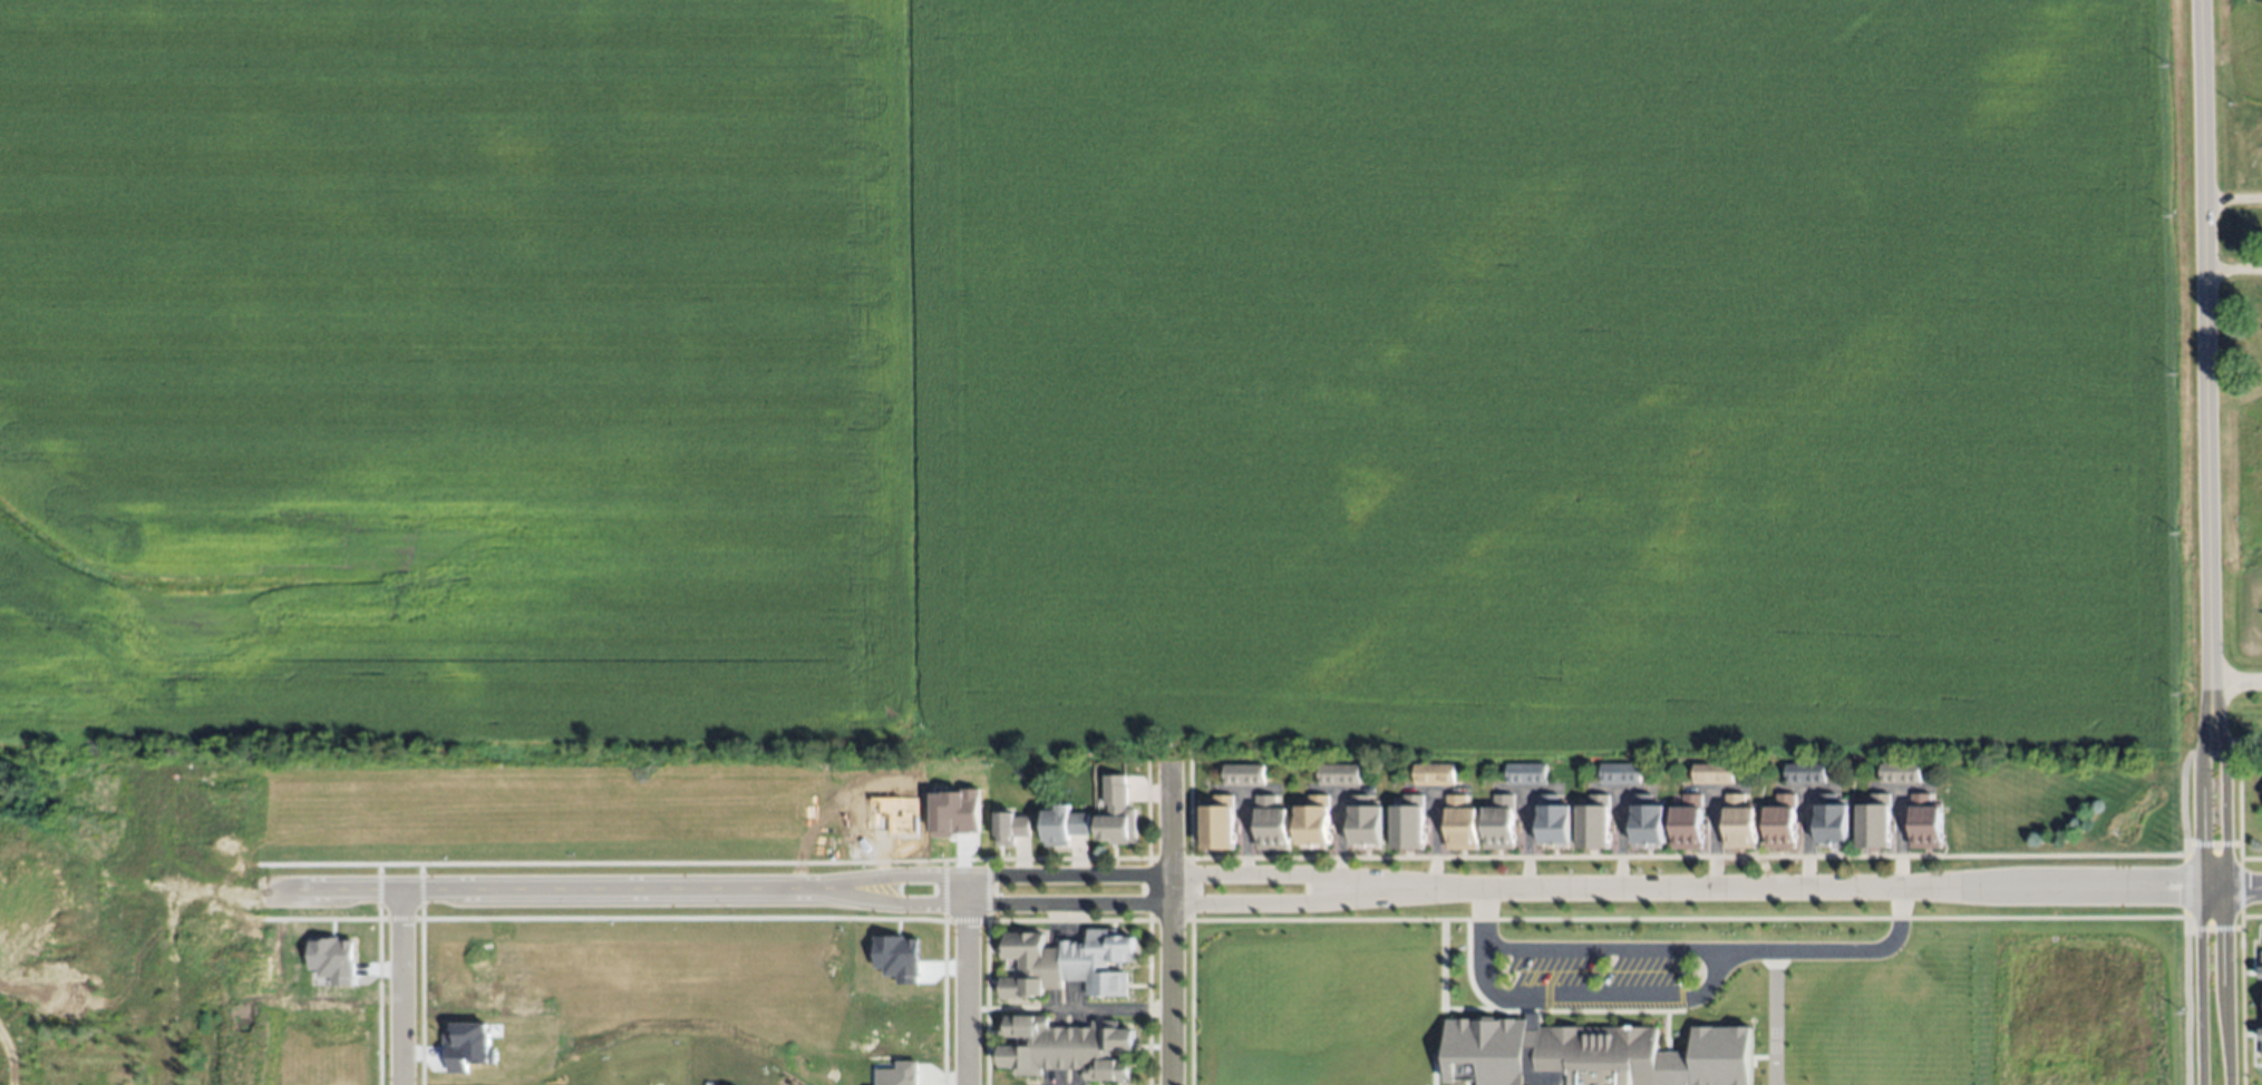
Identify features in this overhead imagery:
road: (2232, 197)
road: (2233, 267)
road: (2205, 343)
road: (2237, 686)
building: (1900, 771)
building: (1712, 773)
building: (1806, 773)
building: (1618, 774)
building: (1433, 775)
building: (1525, 775)
building: (1338, 776)
building: (1242, 778)
road: (1709, 786)
road: (1802, 786)
road: (1897, 786)
road: (1427, 788)
road: (1618, 789)
road: (1337, 790)
road: (1525, 790)
road: (1245, 791)
building: (1116, 809)
building: (954, 813)
building: (1687, 819)
building: (1739, 819)
building: (1783, 820)
building: (1834, 821)
building: (1874, 821)
building: (1925, 821)
building: (1455, 822)
building: (1493, 822)
building: (1641, 822)
building: (1062, 823)
building: (1312, 823)
building: (1363, 823)
building: (1547, 823)
building: (1011, 824)
building: (1588, 824)
building: (1216, 825)
building: (1269, 825)
building: (1402, 825)
road: (1244, 833)
road: (1339, 834)
road: (1708, 838)
road: (1802, 838)
road: (1897, 838)
road: (1427, 839)
road: (1615, 839)
road: (1523, 840)
road: (2085, 872)
road: (1114, 877)
road: (2180, 881)
road: (2201, 884)
road: (2225, 884)
road: (2231, 888)
road: (1686, 889)
road: (423, 890)
road: (2086, 900)
road: (1114, 905)
road: (1167, 925)
road: (169, 927)
road: (1681, 954)
building: (897, 959)
building: (333, 960)
building: (1067, 960)
building: (2261, 969)
road: (968, 980)
road: (402, 988)
road: (1596, 997)
road: (1072, 1011)
building: (1065, 1046)
building: (468, 1047)
building: (1603, 1055)
building: (2261, 1055)
building: (900, 1074)

